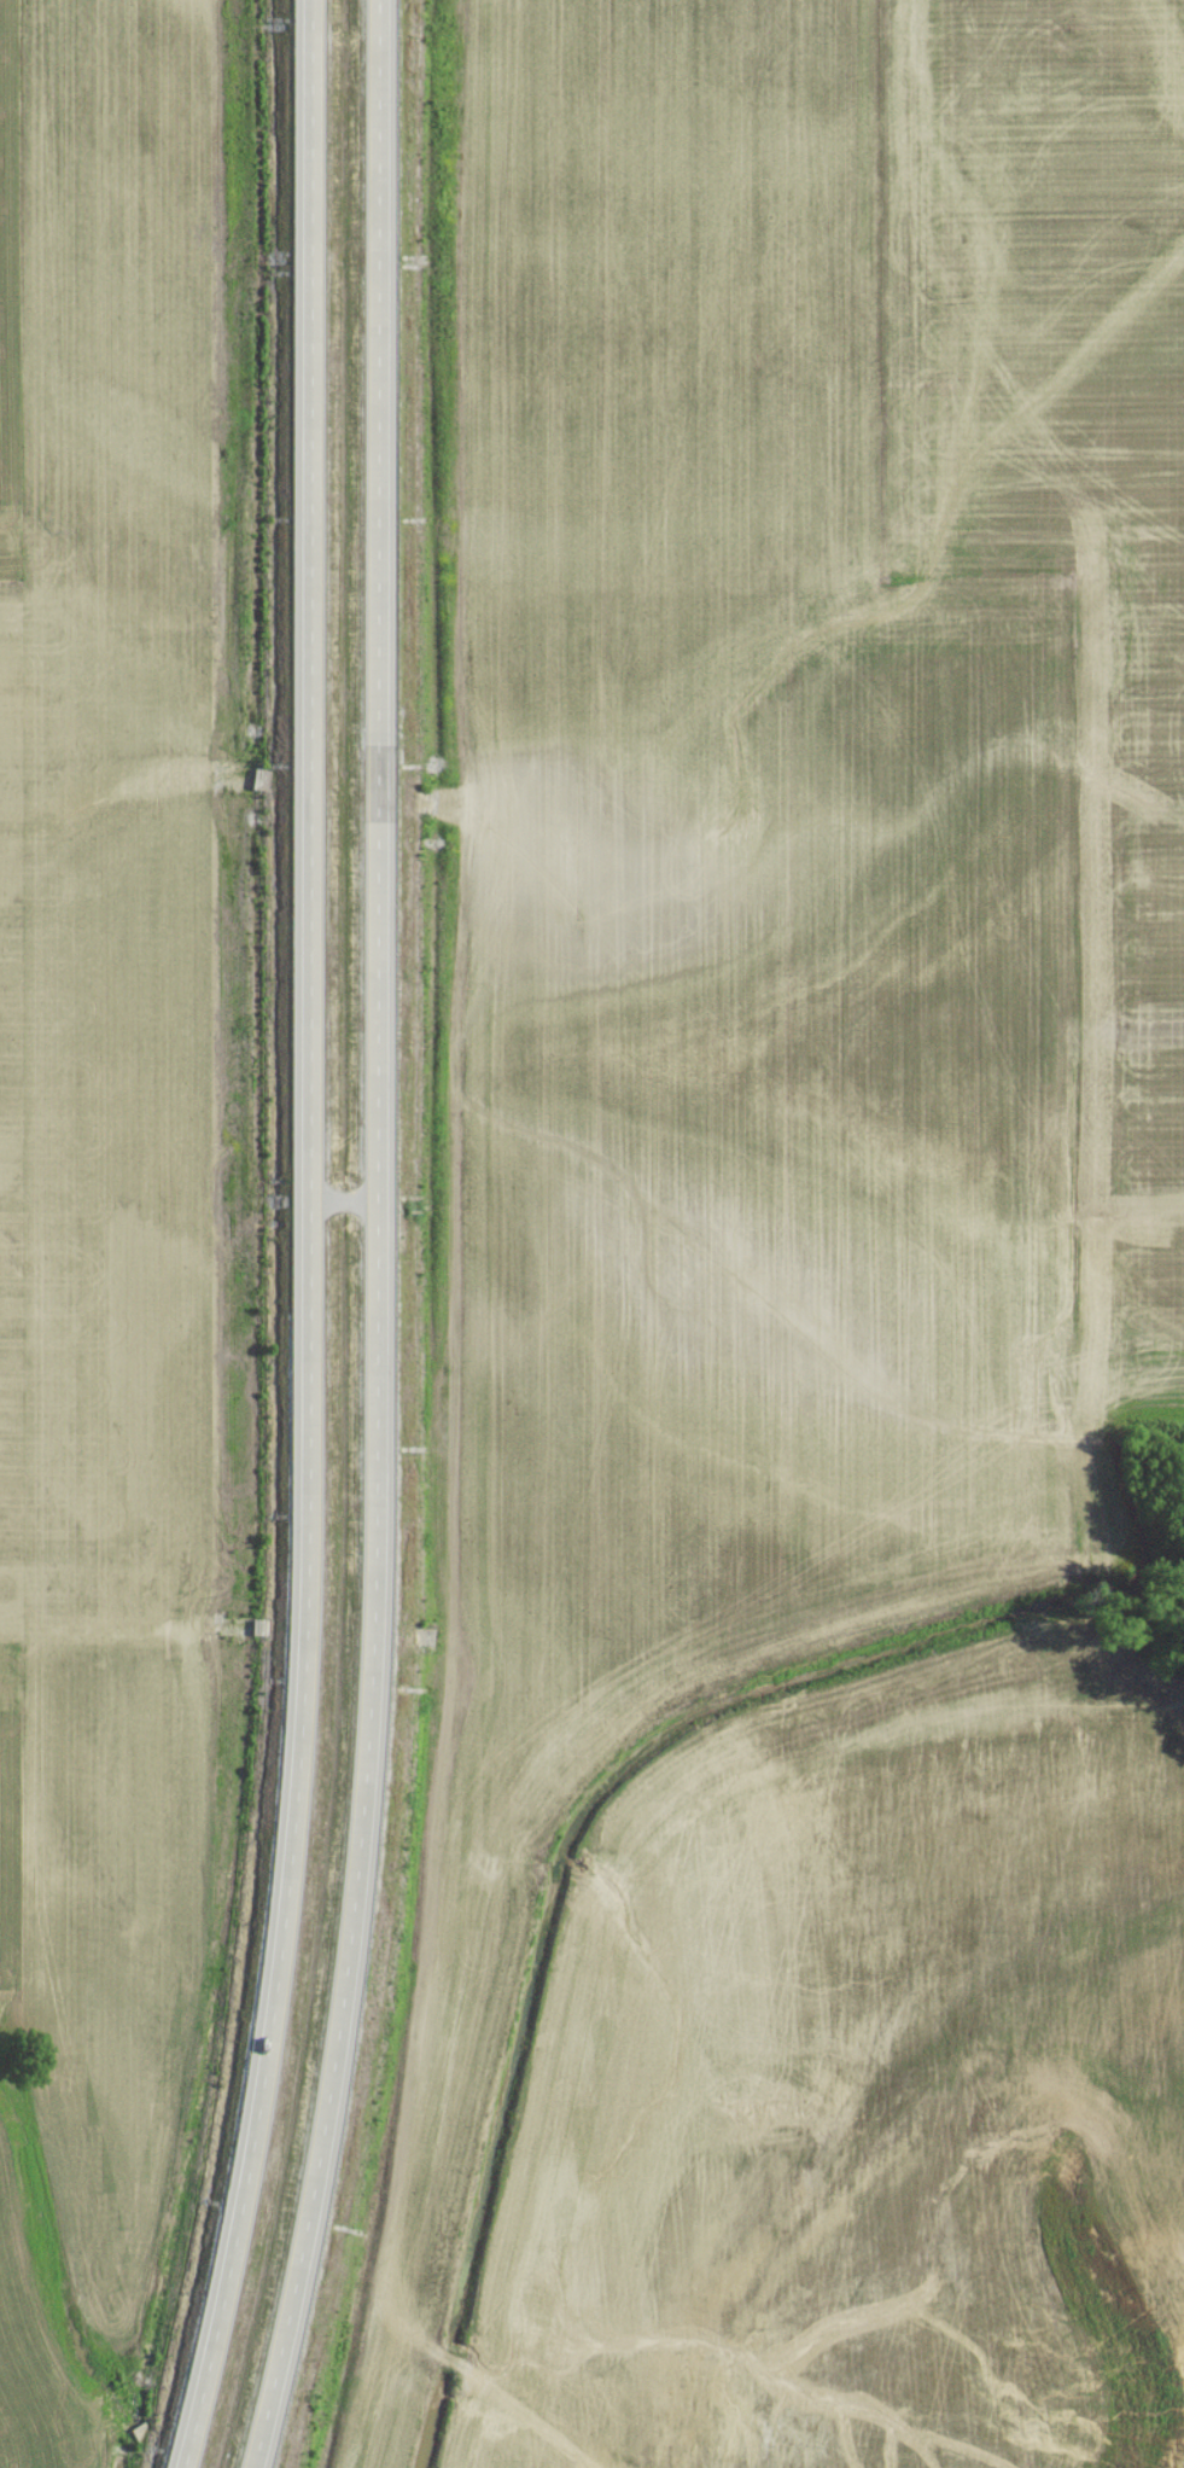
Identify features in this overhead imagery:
road: (308, 1239)
road: (369, 1239)

